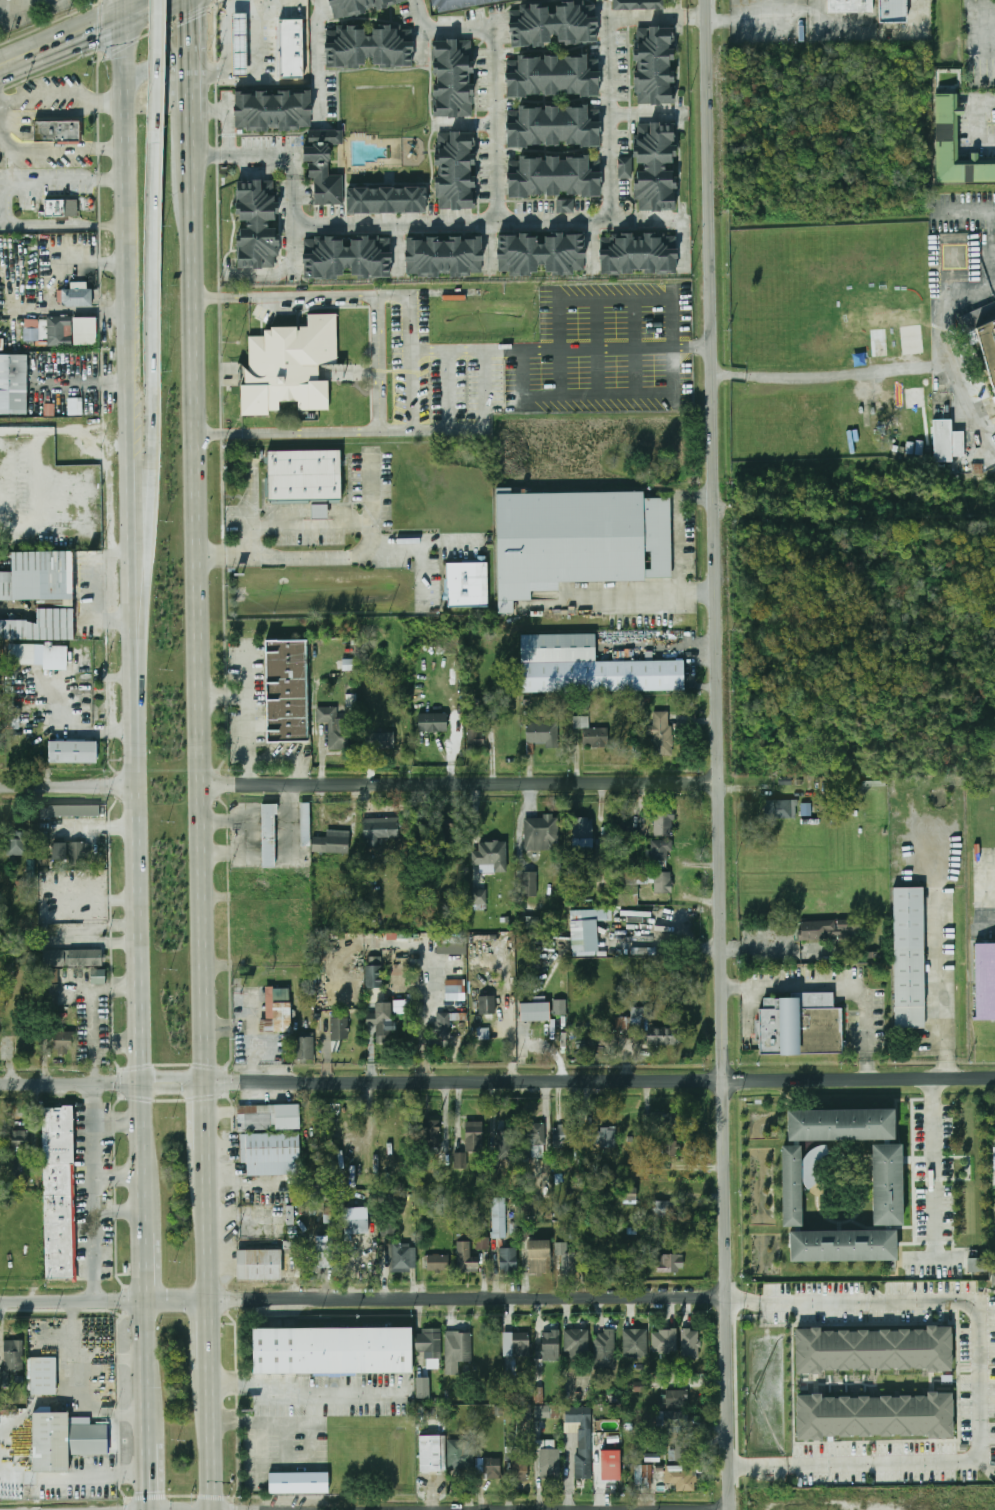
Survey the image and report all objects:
road: (176, 2)
road: (122, 3)
road: (128, 3)
building: (460, 3)
building: (639, 5)
building: (357, 6)
building: (850, 6)
building: (891, 10)
road: (103, 13)
road: (697, 14)
traffic signals: (192, 20)
road: (137, 21)
building: (551, 24)
road: (58, 38)
traffic signals: (95, 39)
traffic signals: (166, 40)
building: (236, 44)
gas station: (236, 44)
building: (287, 47)
building: (366, 47)
road: (61, 48)
road: (172, 54)
road: (318, 57)
road: (16, 60)
road: (159, 60)
road: (192, 61)
building: (653, 66)
road: (167, 77)
building: (549, 77)
building: (451, 79)
road: (62, 97)
building: (271, 110)
building: (553, 127)
road: (125, 128)
building: (58, 131)
road: (611, 132)
building: (954, 147)
road: (61, 150)
road: (229, 154)
road: (211, 155)
building: (321, 165)
building: (651, 167)
building: (453, 170)
road: (194, 171)
building: (553, 177)
building: (385, 200)
road: (5, 202)
road: (499, 206)
building: (565, 206)
building: (60, 208)
road: (965, 208)
road: (670, 217)
building: (254, 223)
road: (992, 234)
building: (539, 254)
building: (636, 254)
building: (442, 256)
helipad: (956, 257)
building: (345, 258)
road: (289, 274)
building: (77, 298)
road: (615, 299)
building: (69, 331)
road: (130, 343)
building: (988, 345)
road: (597, 347)
road: (561, 348)
road: (635, 348)
road: (674, 348)
road: (429, 349)
road: (410, 361)
building: (293, 362)
road: (523, 373)
road: (884, 373)
building: (17, 385)
road: (598, 397)
road: (412, 402)
building: (75, 406)
road: (971, 413)
road: (154, 415)
road: (472, 431)
road: (359, 432)
building: (944, 441)
building: (960, 443)
building: (306, 475)
building: (319, 511)
building: (578, 541)
road: (370, 546)
road: (421, 546)
road: (680, 547)
road: (135, 572)
building: (38, 577)
building: (467, 585)
building: (32, 627)
building: (448, 646)
road: (202, 652)
building: (25, 654)
building: (589, 667)
building: (290, 691)
road: (226, 692)
road: (248, 720)
building: (432, 722)
building: (333, 728)
building: (590, 732)
building: (542, 733)
building: (661, 733)
building: (379, 740)
building: (475, 740)
road: (138, 750)
building: (74, 753)
road: (719, 754)
road: (461, 784)
road: (69, 789)
building: (780, 810)
building: (71, 811)
building: (305, 822)
building: (662, 823)
building: (582, 828)
building: (380, 830)
building: (445, 834)
building: (539, 834)
road: (475, 835)
building: (268, 836)
road: (519, 841)
building: (337, 842)
building: (16, 843)
building: (661, 850)
building: (70, 853)
building: (493, 855)
building: (475, 858)
building: (627, 877)
building: (662, 883)
building: (529, 884)
road: (141, 897)
building: (479, 897)
building: (585, 929)
building: (827, 929)
building: (83, 957)
building: (910, 957)
building: (7, 964)
building: (373, 972)
building: (97, 976)
building: (986, 982)
road: (838, 984)
building: (456, 987)
building: (49, 991)
road: (935, 991)
building: (559, 1007)
road: (751, 1010)
building: (276, 1011)
road: (95, 1012)
building: (487, 1012)
building: (534, 1012)
building: (381, 1019)
road: (425, 1020)
building: (621, 1023)
building: (442, 1026)
building: (802, 1026)
building: (339, 1029)
building: (655, 1029)
building: (62, 1041)
road: (144, 1045)
building: (304, 1050)
road: (497, 1082)
building: (269, 1117)
building: (660, 1120)
road: (212, 1122)
road: (120, 1124)
building: (842, 1126)
building: (427, 1135)
building: (564, 1136)
building: (602, 1136)
building: (20, 1139)
building: (533, 1141)
building: (470, 1143)
building: (505, 1145)
building: (669, 1148)
building: (271, 1154)
road: (146, 1157)
road: (934, 1167)
building: (13, 1174)
road: (120, 1175)
building: (888, 1186)
building: (793, 1187)
building: (59, 1191)
building: (317, 1192)
road: (95, 1194)
building: (660, 1208)
road: (121, 1213)
building: (500, 1218)
building: (388, 1225)
building: (356, 1226)
road: (212, 1229)
building: (483, 1243)
building: (844, 1247)
building: (326, 1253)
building: (538, 1256)
building: (403, 1257)
building: (465, 1259)
building: (567, 1259)
building: (292, 1260)
building: (508, 1260)
building: (437, 1262)
building: (670, 1263)
building: (260, 1264)
road: (147, 1265)
building: (976, 1265)
building: (993, 1279)
road: (363, 1300)
road: (212, 1335)
building: (428, 1341)
building: (664, 1341)
building: (635, 1343)
building: (516, 1344)
building: (577, 1344)
building: (690, 1344)
building: (548, 1346)
building: (334, 1349)
building: (604, 1350)
building: (873, 1350)
building: (458, 1351)
road: (72, 1352)
building: (13, 1355)
road: (148, 1371)
building: (42, 1376)
road: (980, 1381)
road: (307, 1386)
building: (423, 1387)
building: (538, 1395)
building: (673, 1399)
road: (33, 1409)
building: (546, 1412)
road: (109, 1413)
building: (875, 1416)
building: (672, 1418)
road: (284, 1425)
building: (582, 1437)
building: (63, 1440)
road: (212, 1440)
road: (285, 1445)
road: (311, 1446)
road: (261, 1452)
building: (678, 1452)
building: (431, 1453)
building: (461, 1454)
building: (549, 1462)
building: (520, 1465)
building: (611, 1465)
building: (491, 1467)
road: (150, 1476)
road: (71, 1477)
building: (643, 1477)
building: (681, 1478)
building: (298, 1483)
traffic signals: (150, 1495)

